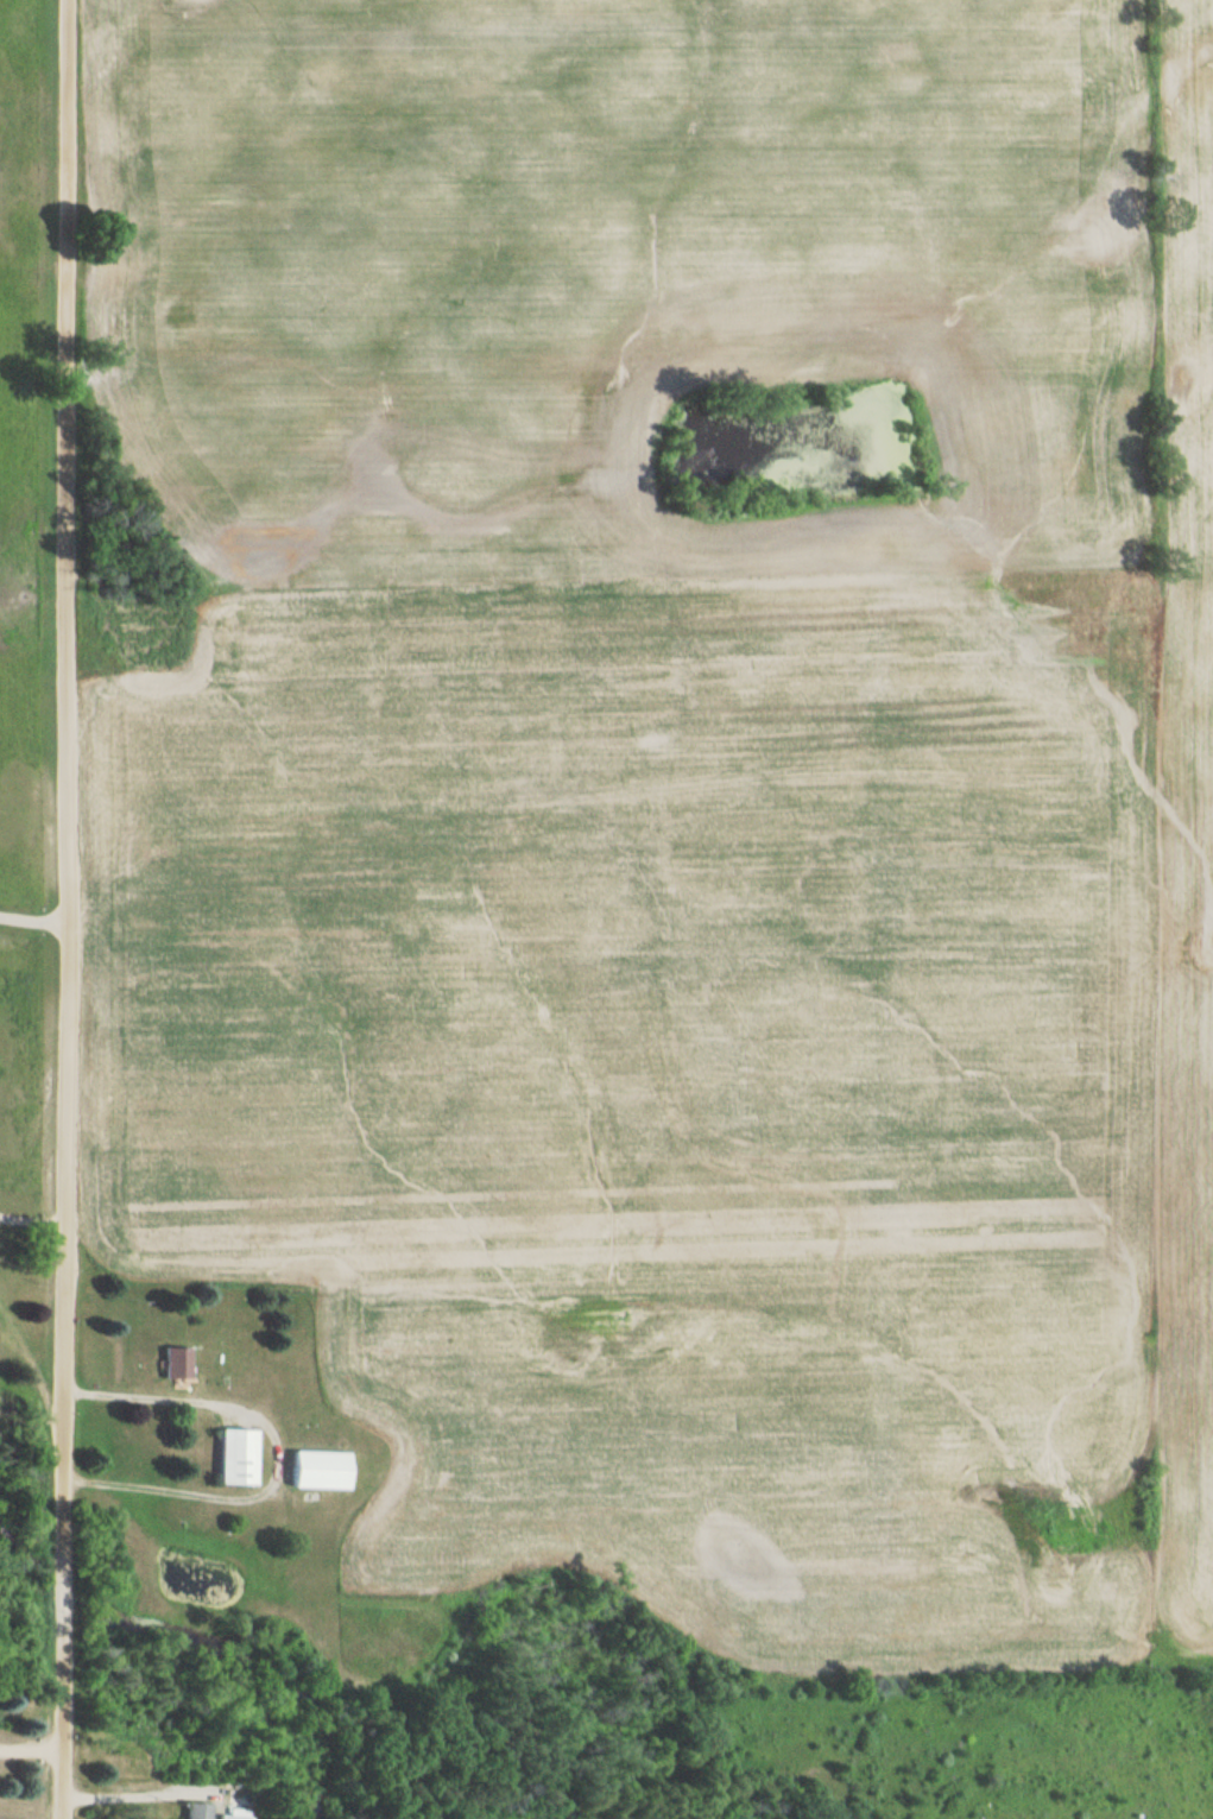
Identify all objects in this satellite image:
road: (65, 909)
road: (32, 917)
road: (32, 1221)
building: (171, 1363)
road: (279, 1454)
building: (233, 1457)
building: (316, 1471)
building: (189, 1811)
building: (229, 1814)

